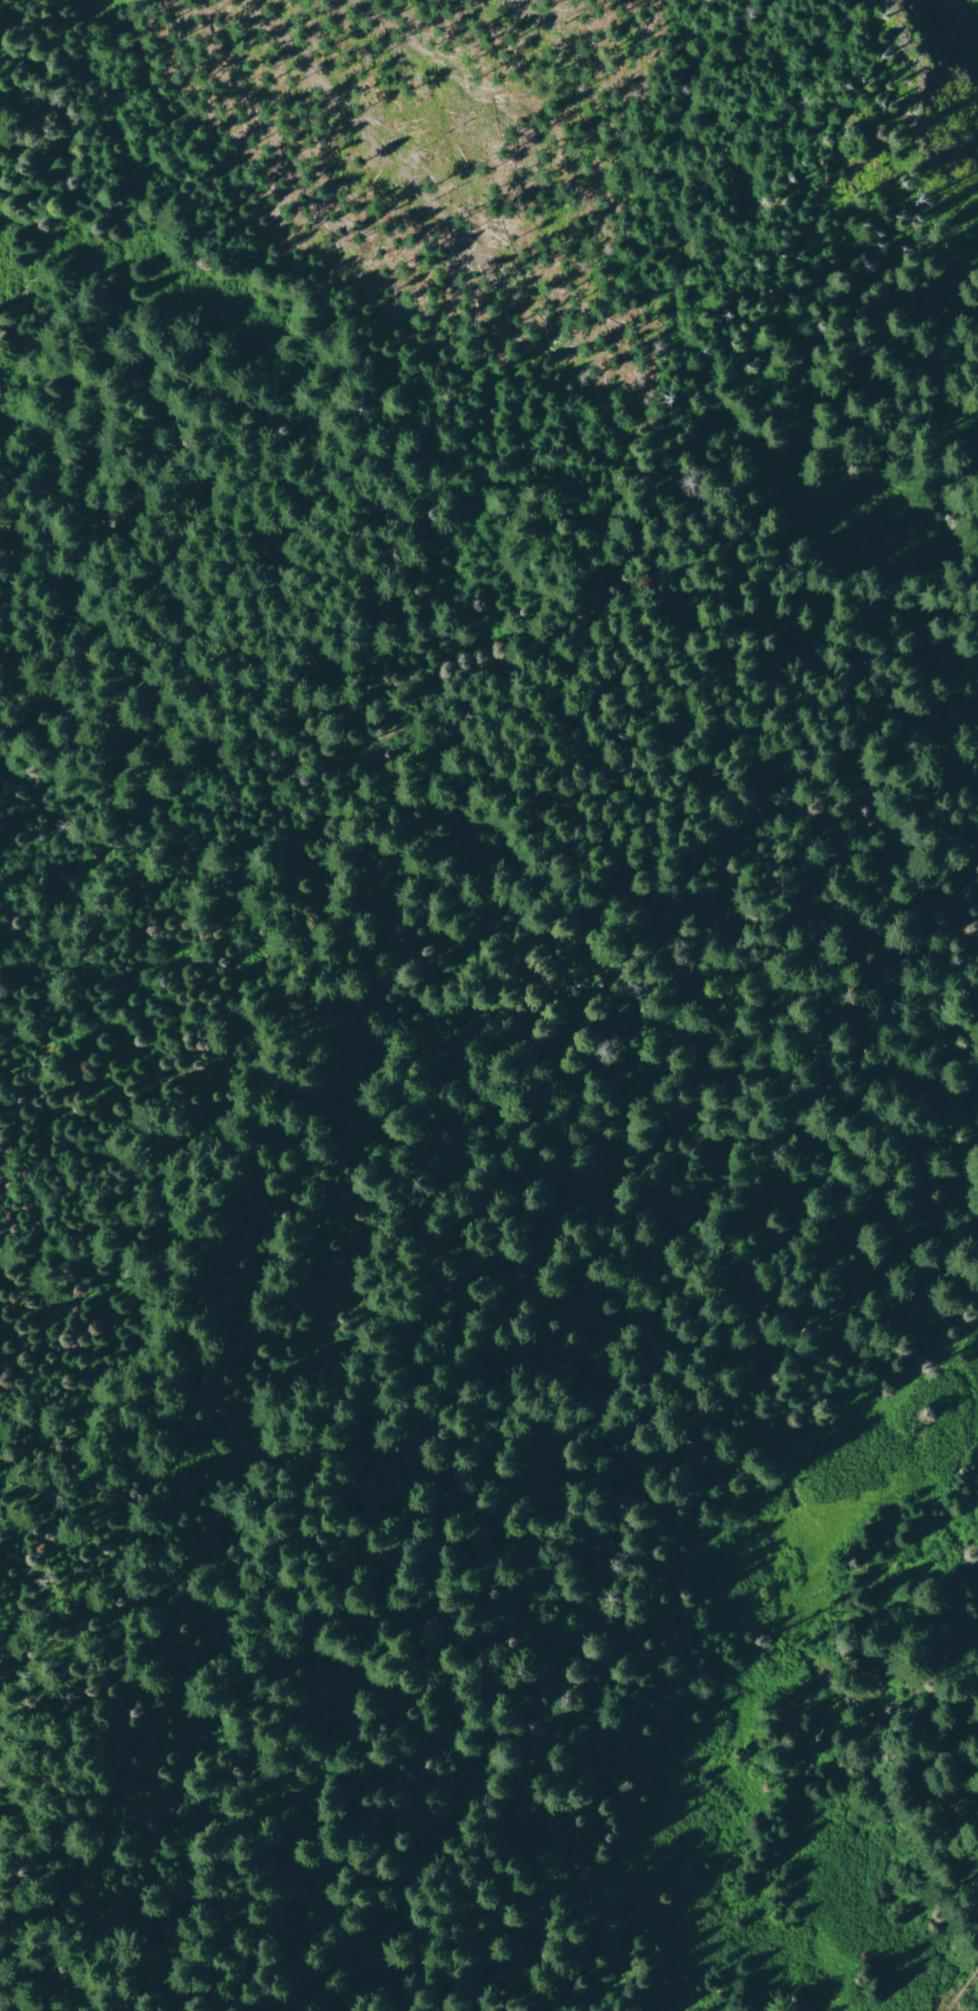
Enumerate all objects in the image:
road: (99, 40)
road: (218, 867)

